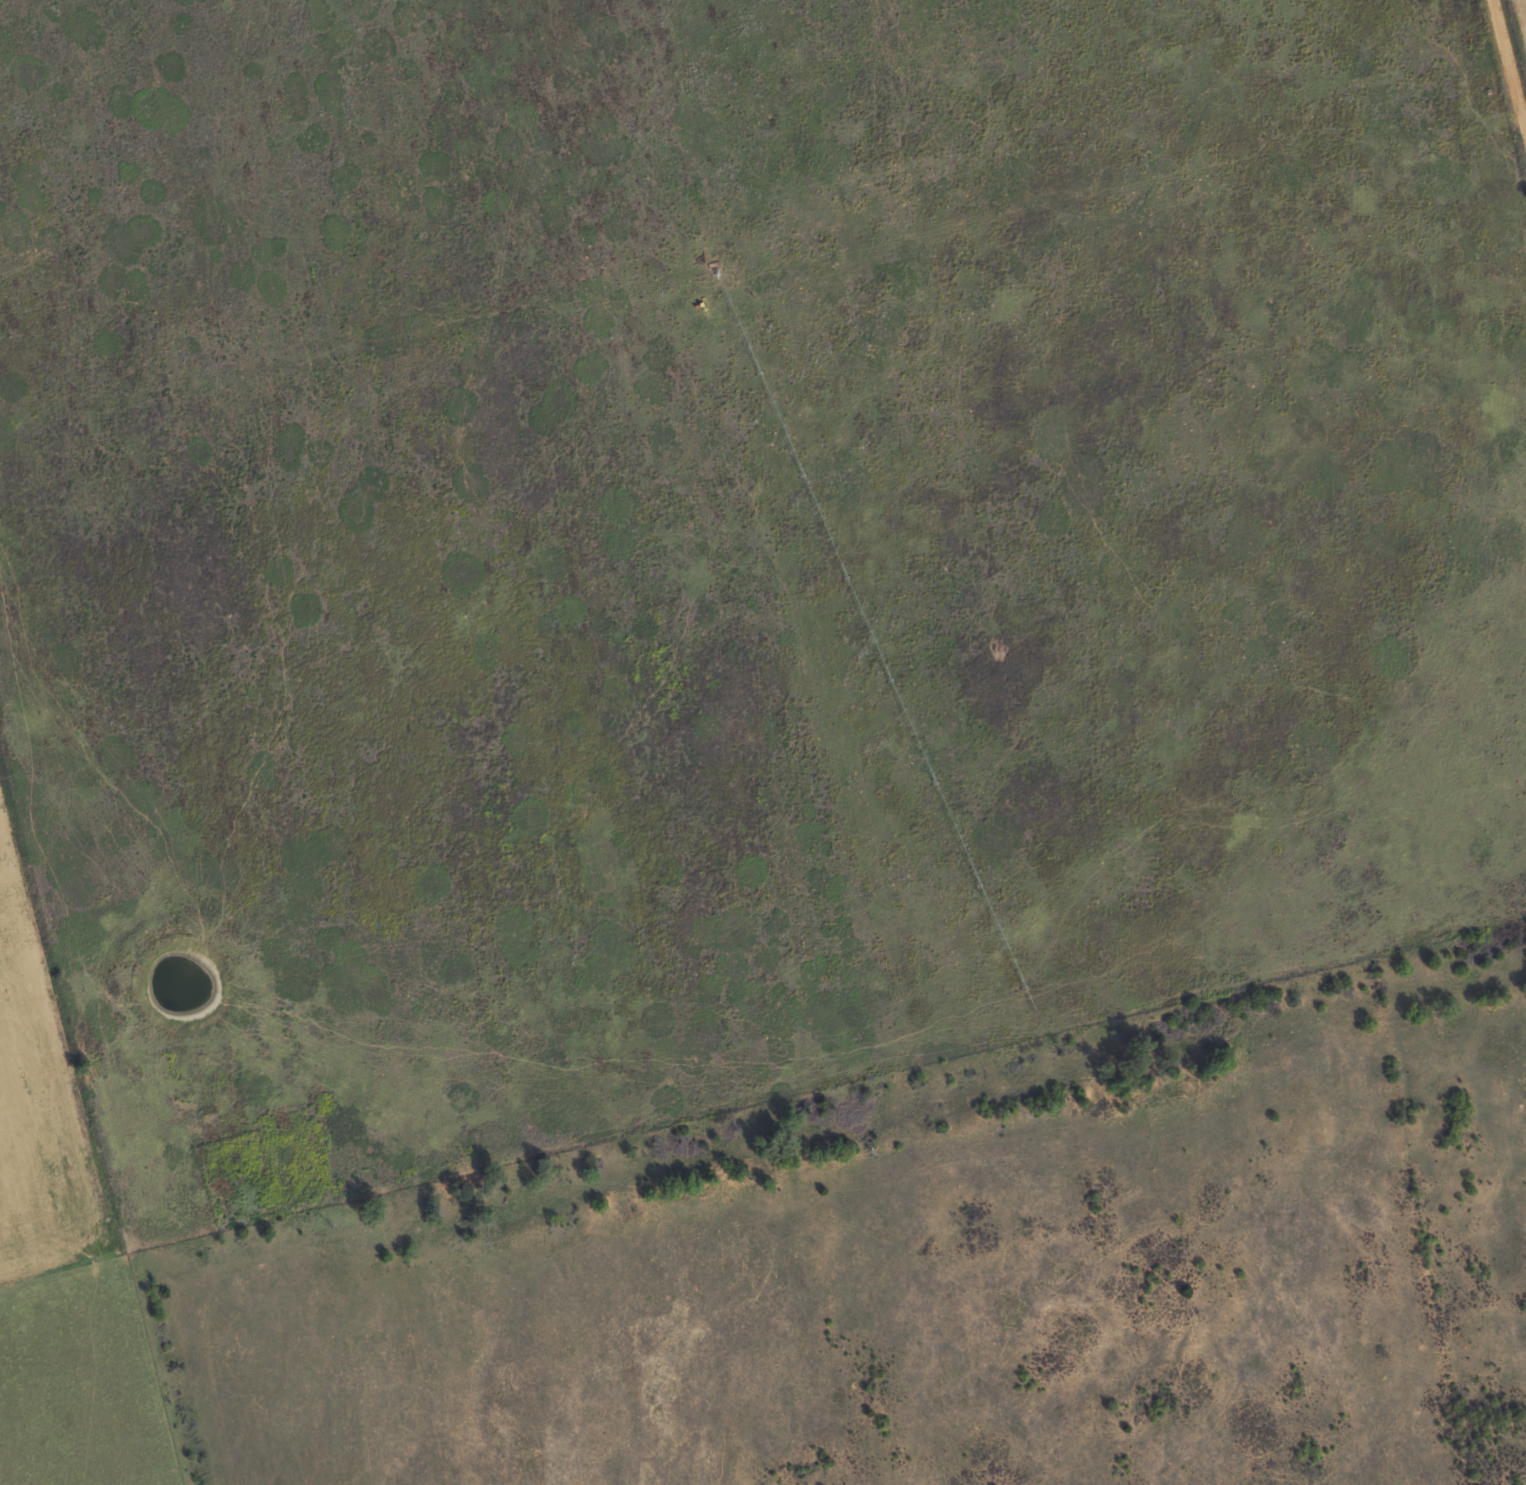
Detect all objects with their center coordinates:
road: (1505, 79)

